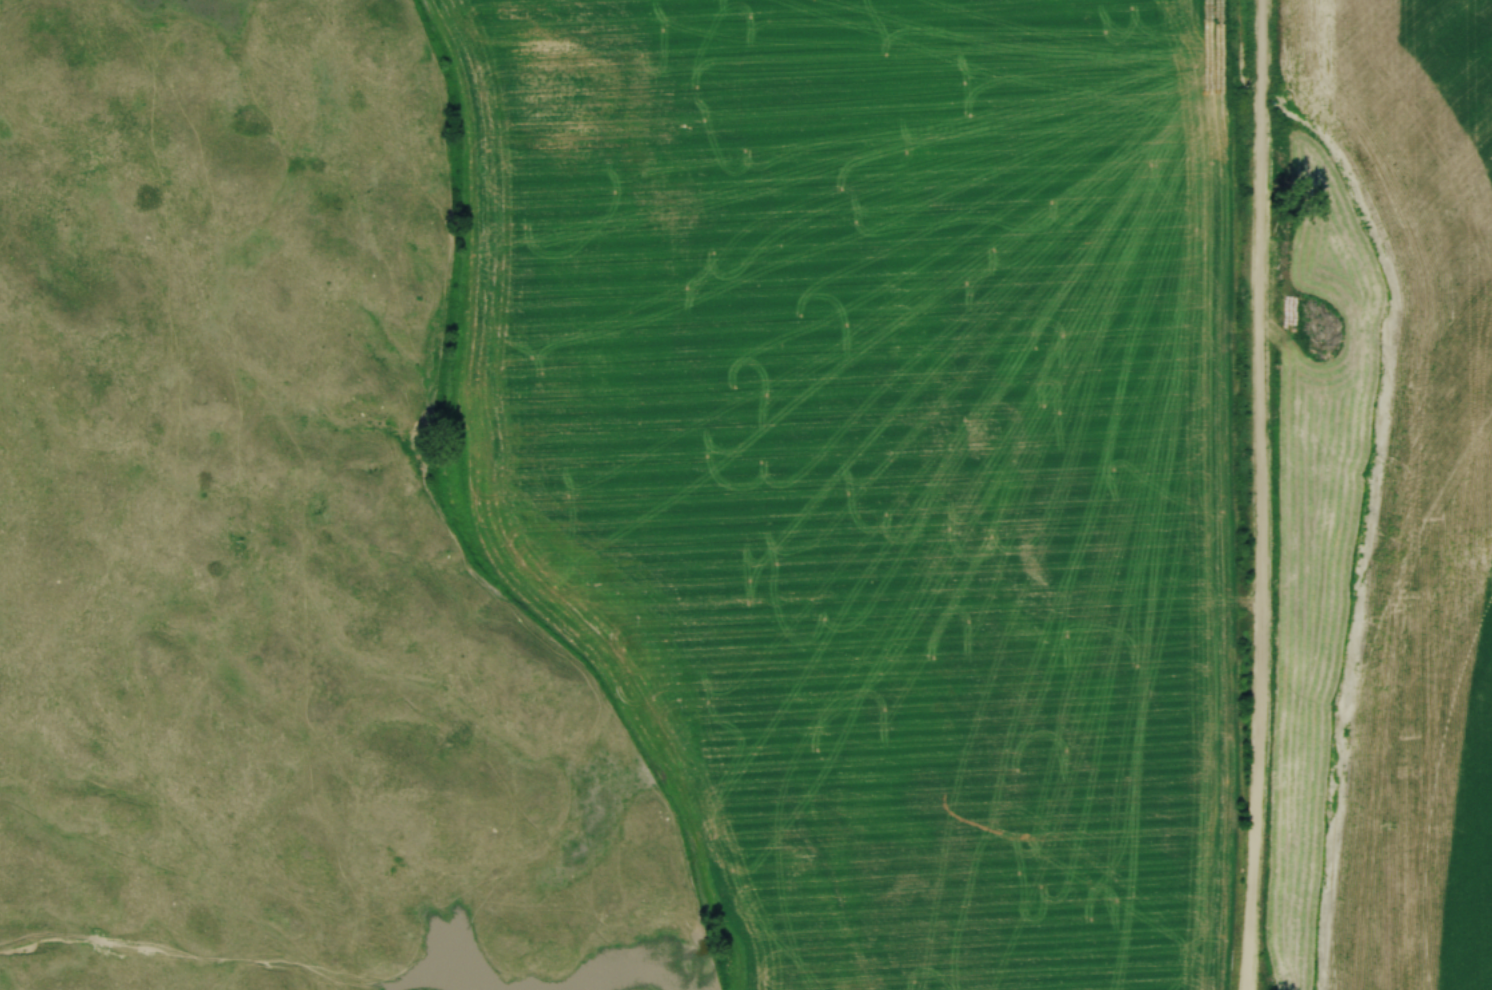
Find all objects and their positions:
road: (1258, 495)

